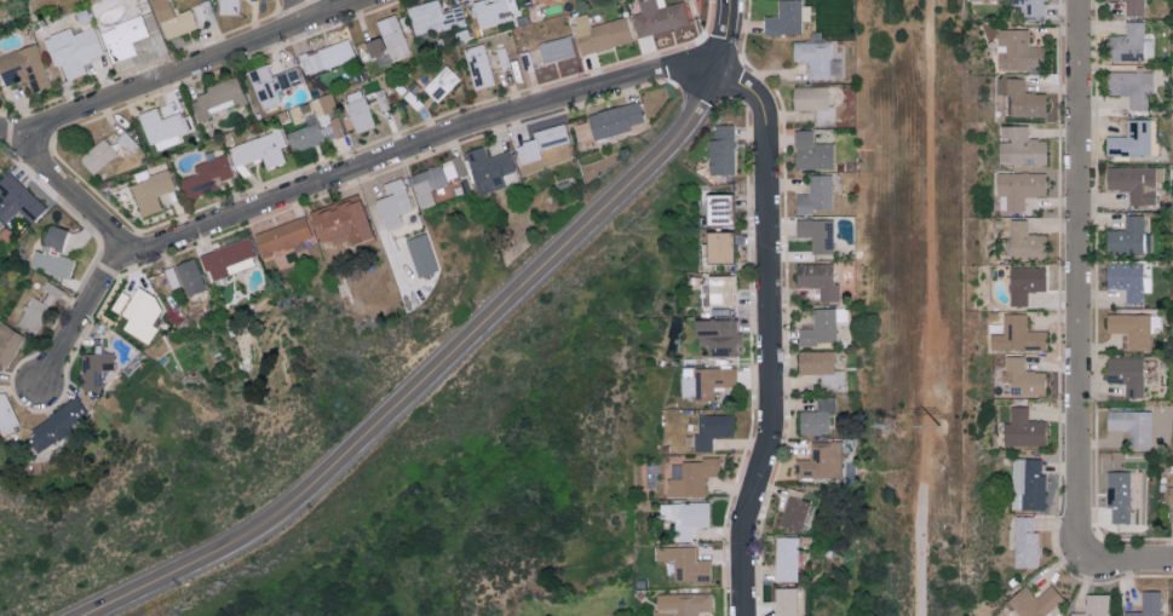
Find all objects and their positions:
building: (972, 0)
building: (229, 6)
building: (1030, 7)
building: (1133, 7)
building: (494, 11)
road: (295, 13)
building: (657, 16)
building: (433, 17)
building: (787, 17)
building: (172, 18)
building: (599, 33)
building: (392, 35)
building: (123, 38)
road: (731, 38)
building: (1129, 44)
building: (374, 46)
building: (556, 48)
building: (73, 50)
building: (1016, 50)
building: (327, 56)
building: (501, 57)
building: (815, 57)
building: (478, 67)
building: (23, 68)
road: (191, 69)
building: (442, 82)
building: (271, 84)
building: (1131, 87)
building: (215, 98)
building: (1024, 99)
building: (813, 102)
building: (358, 110)
building: (615, 119)
building: (317, 125)
building: (161, 127)
building: (550, 139)
building: (1134, 139)
road: (416, 146)
building: (1019, 146)
building: (721, 150)
building: (259, 151)
building: (811, 151)
building: (527, 152)
building: (97, 155)
building: (489, 168)
building: (207, 175)
building: (435, 179)
building: (1135, 182)
road: (63, 186)
building: (1017, 189)
building: (150, 190)
building: (815, 195)
building: (17, 200)
building: (393, 203)
building: (718, 209)
building: (341, 221)
building: (816, 234)
building: (282, 236)
building: (1128, 237)
building: (1024, 240)
building: (719, 247)
building: (52, 254)
building: (421, 254)
building: (225, 258)
road: (1080, 271)
building: (189, 276)
building: (172, 277)
building: (818, 280)
building: (1128, 281)
building: (1024, 283)
building: (52, 289)
building: (721, 290)
road: (924, 307)
park: (922, 310)
building: (34, 315)
building: (140, 315)
road: (81, 317)
building: (822, 326)
building: (1131, 329)
road: (770, 335)
building: (1017, 335)
building: (717, 336)
building: (8, 342)
building: (815, 362)
building: (94, 368)
building: (1126, 374)
road: (433, 375)
building: (1023, 378)
building: (705, 380)
building: (816, 418)
building: (58, 425)
building: (1132, 426)
power tower: (942, 427)
power tower: (890, 428)
building: (1023, 428)
building: (712, 430)
park: (373, 450)
building: (821, 461)
building: (691, 476)
building: (1029, 482)
building: (1169, 494)
building: (1117, 495)
building: (794, 510)
building: (685, 516)
building: (1024, 541)
building: (787, 557)
building: (684, 562)
road: (1120, 562)
building: (786, 600)
building: (1034, 600)
building: (689, 604)
building: (1146, 604)
building: (1094, 605)

